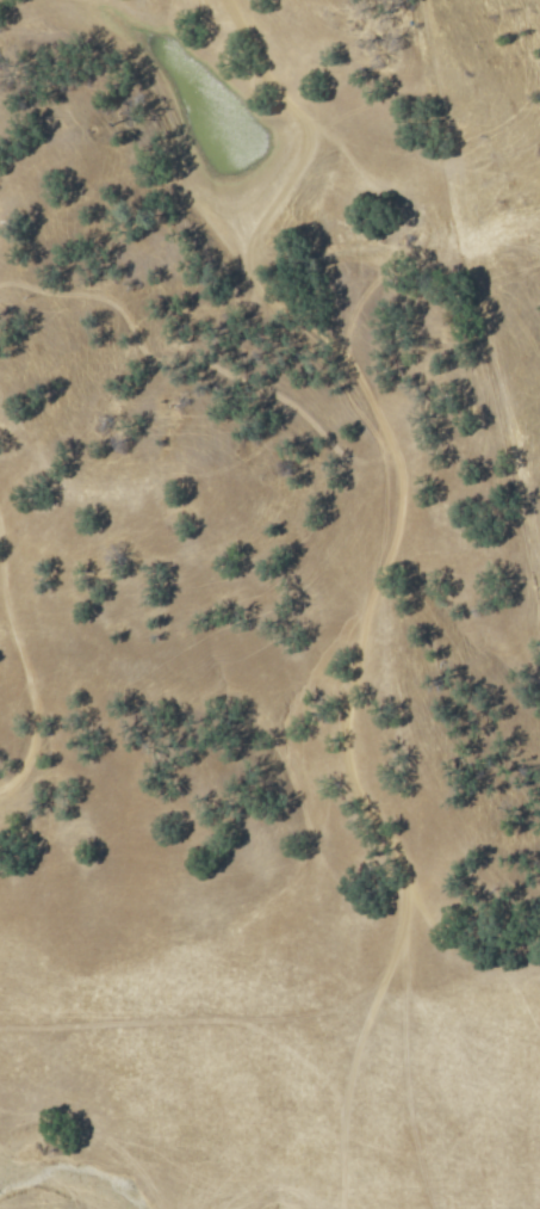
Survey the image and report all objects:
road: (290, 195)
road: (368, 648)
road: (30, 658)
road: (223, 1020)
road: (411, 1074)

